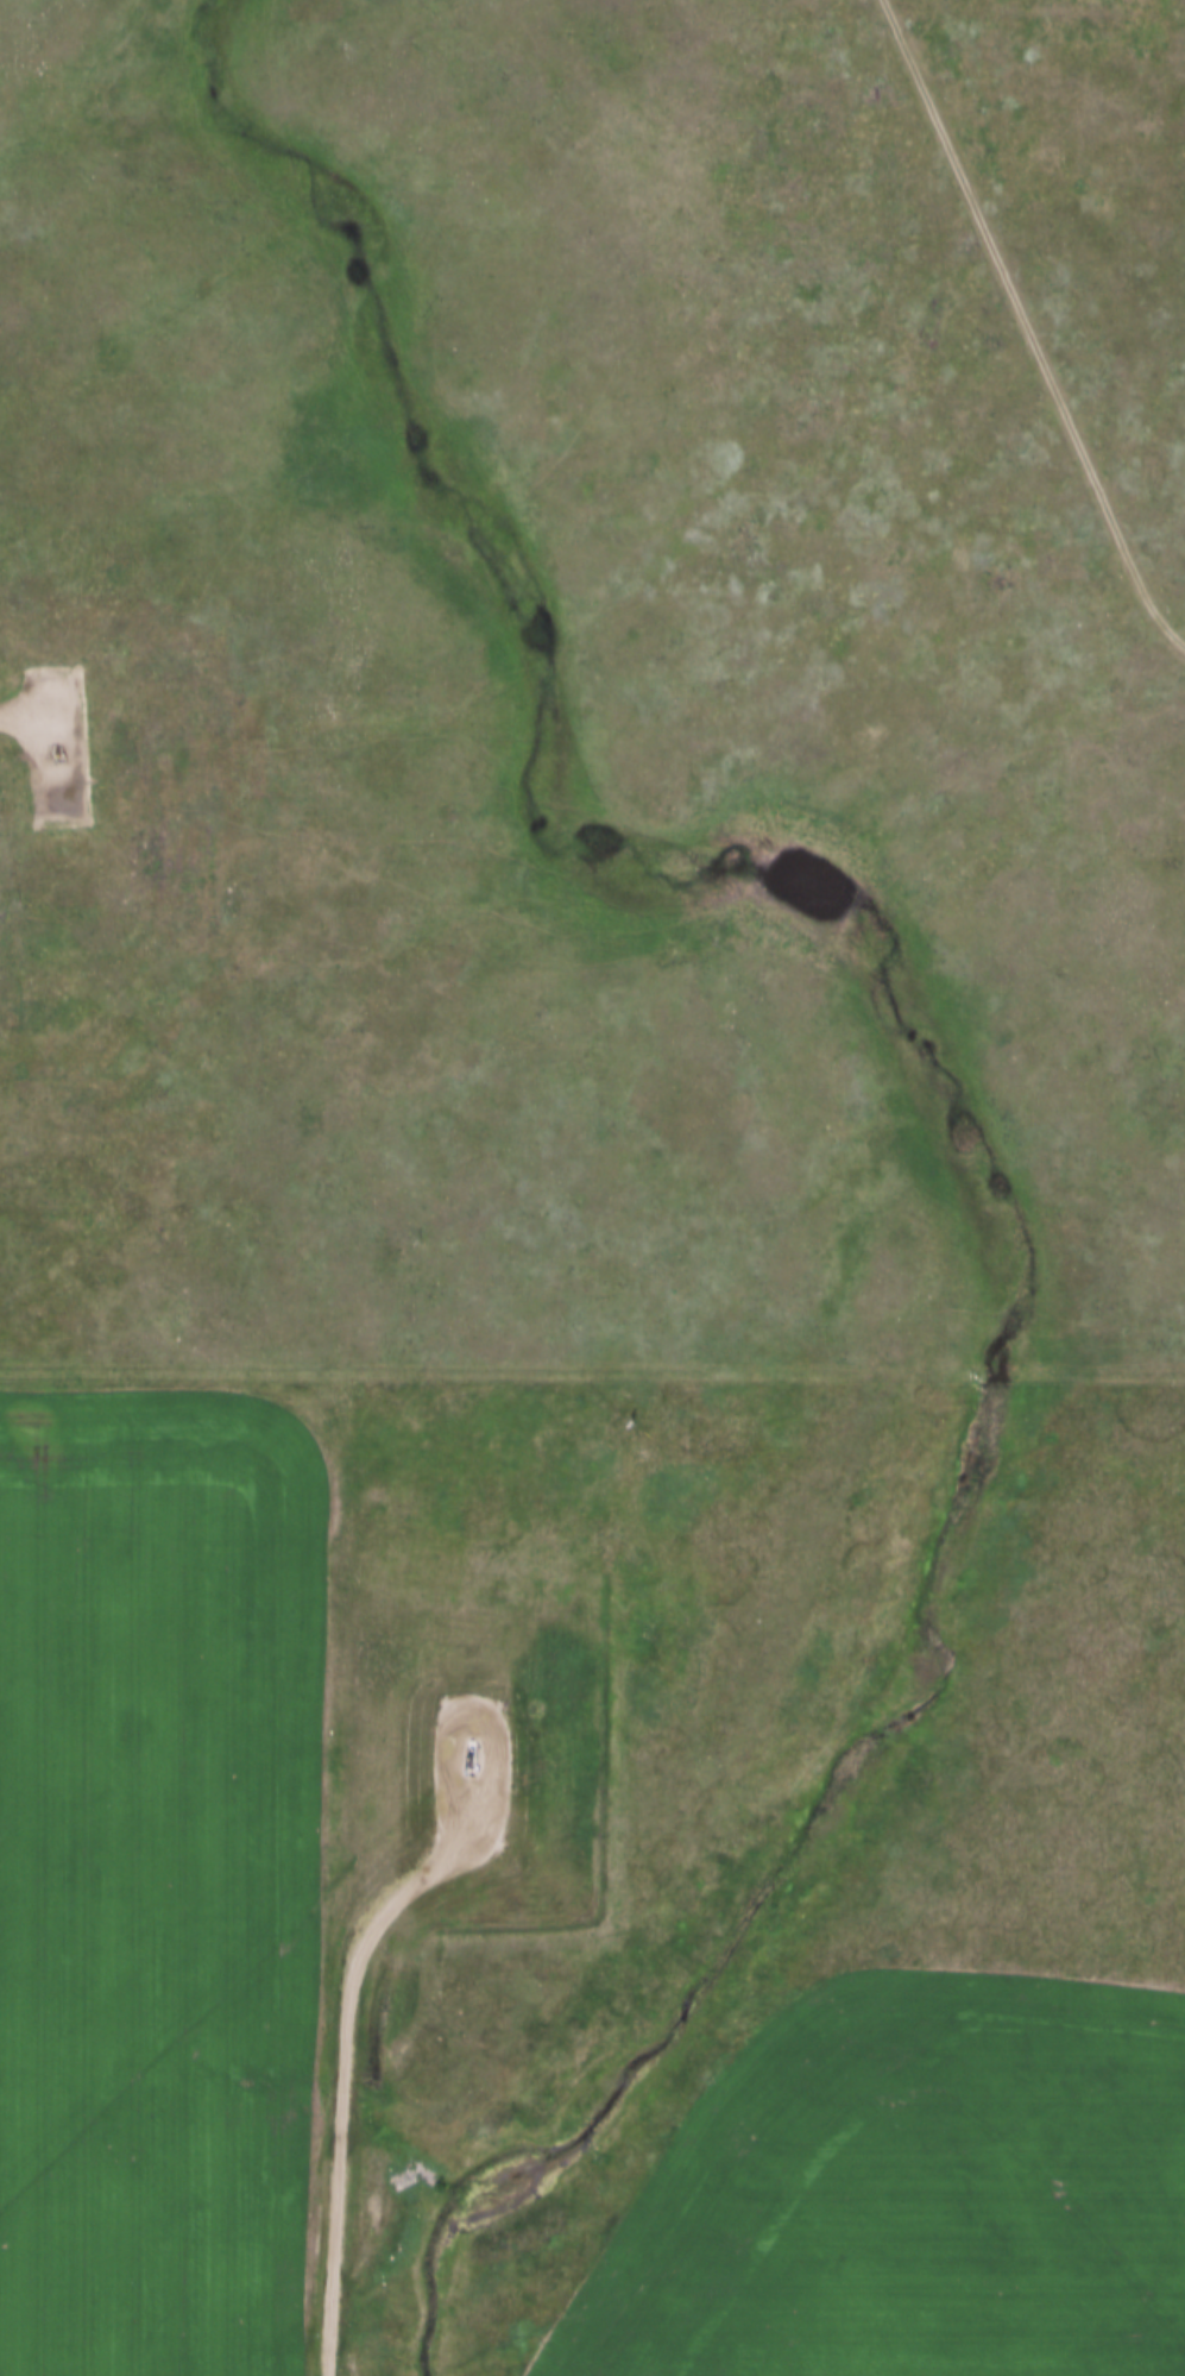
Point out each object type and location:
road: (1030, 323)
road: (30, 708)

